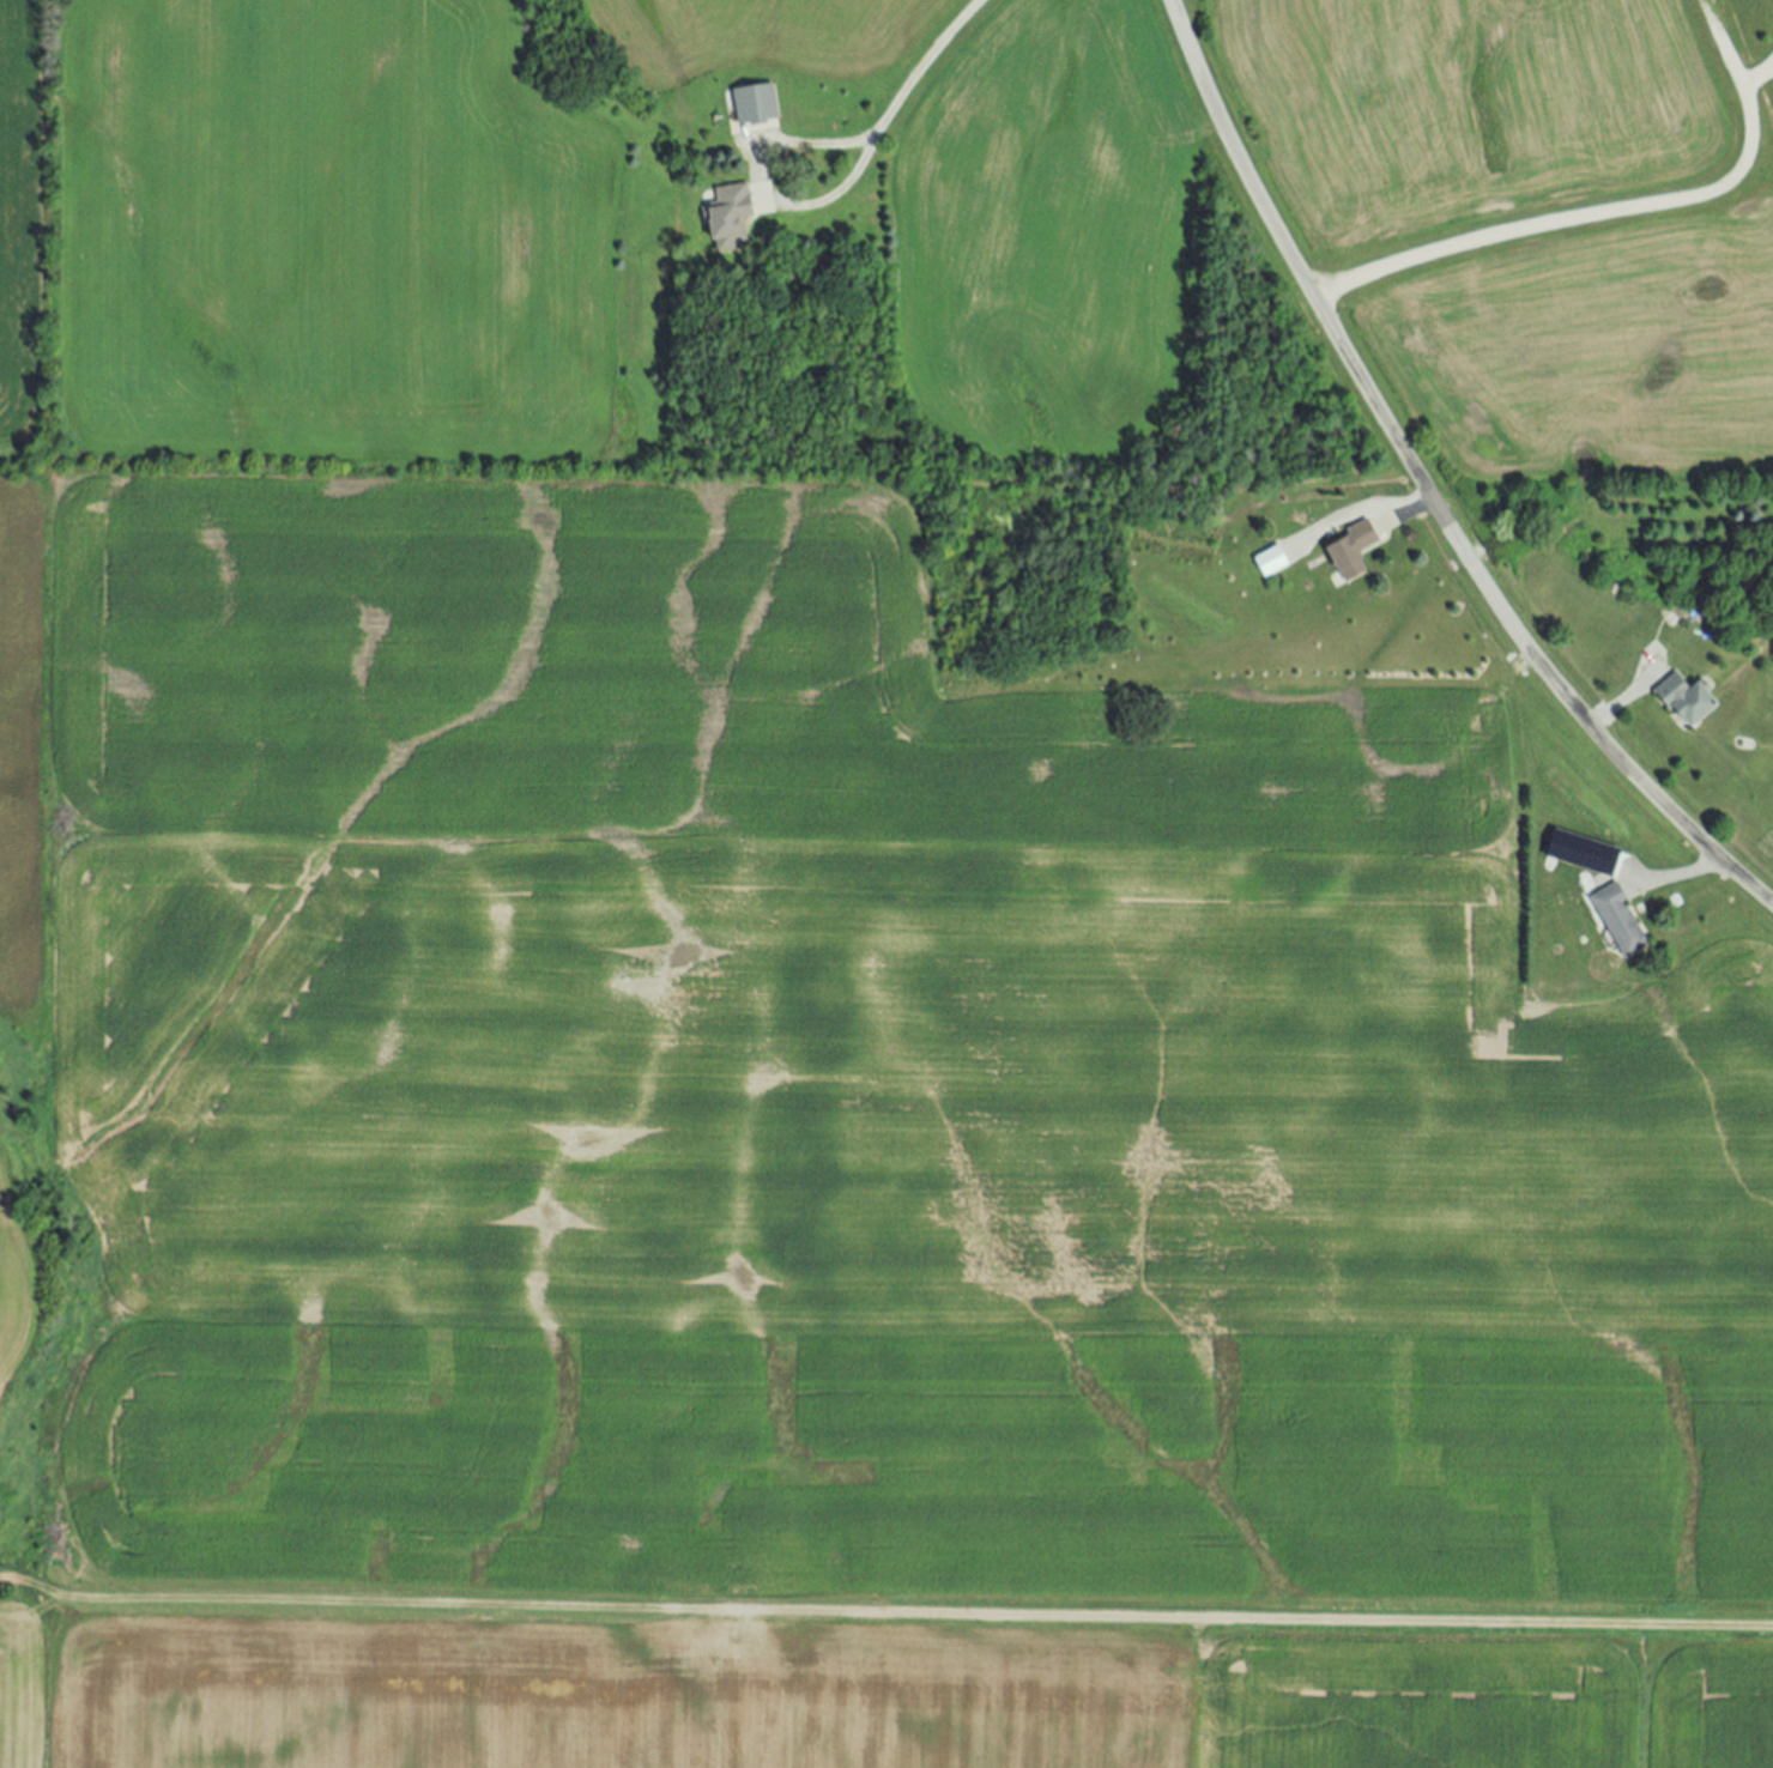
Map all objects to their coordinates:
road: (924, 66)
building: (755, 107)
road: (762, 184)
building: (730, 214)
road: (1587, 216)
road: (1422, 486)
road: (1410, 508)
building: (1354, 550)
building: (1271, 562)
building: (1689, 701)
road: (1622, 702)
building: (1581, 854)
road: (1684, 872)
building: (1621, 921)
road: (914, 1612)

